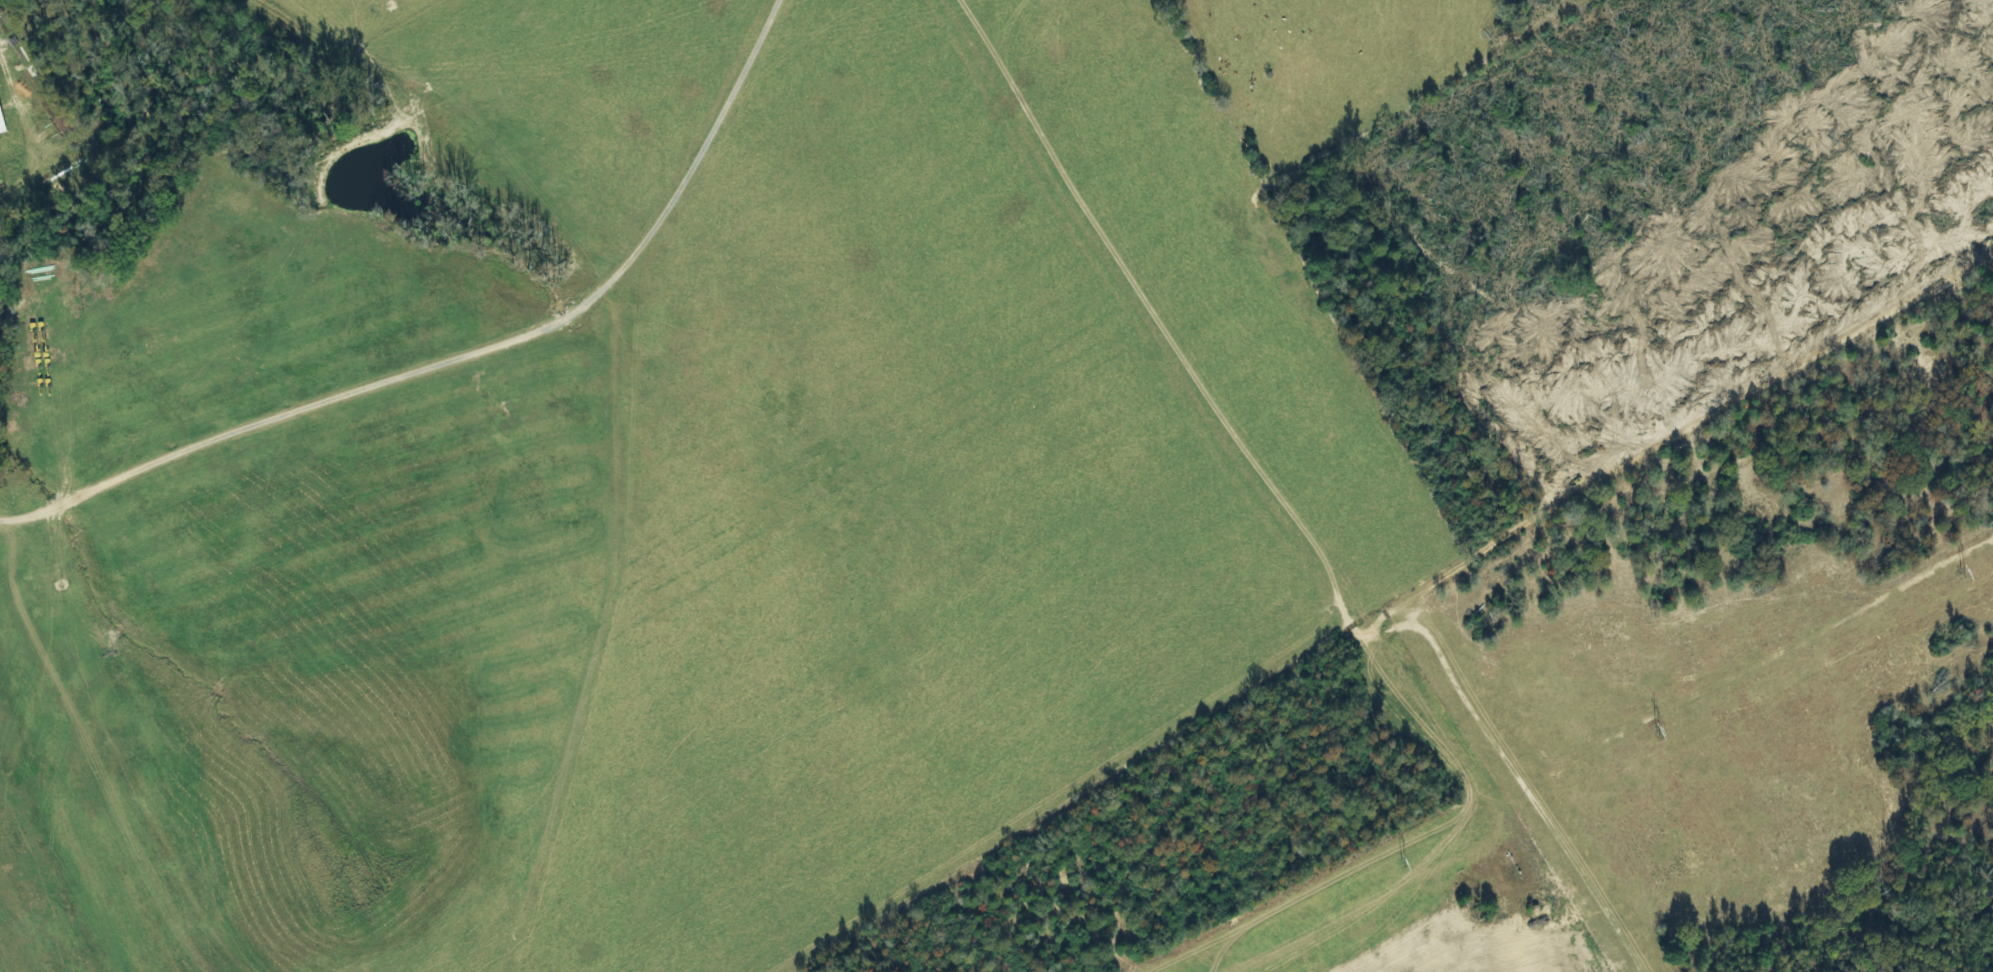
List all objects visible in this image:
building: (2, 123)
power tower: (1959, 568)
power tower: (1648, 723)
power tower: (1397, 859)

